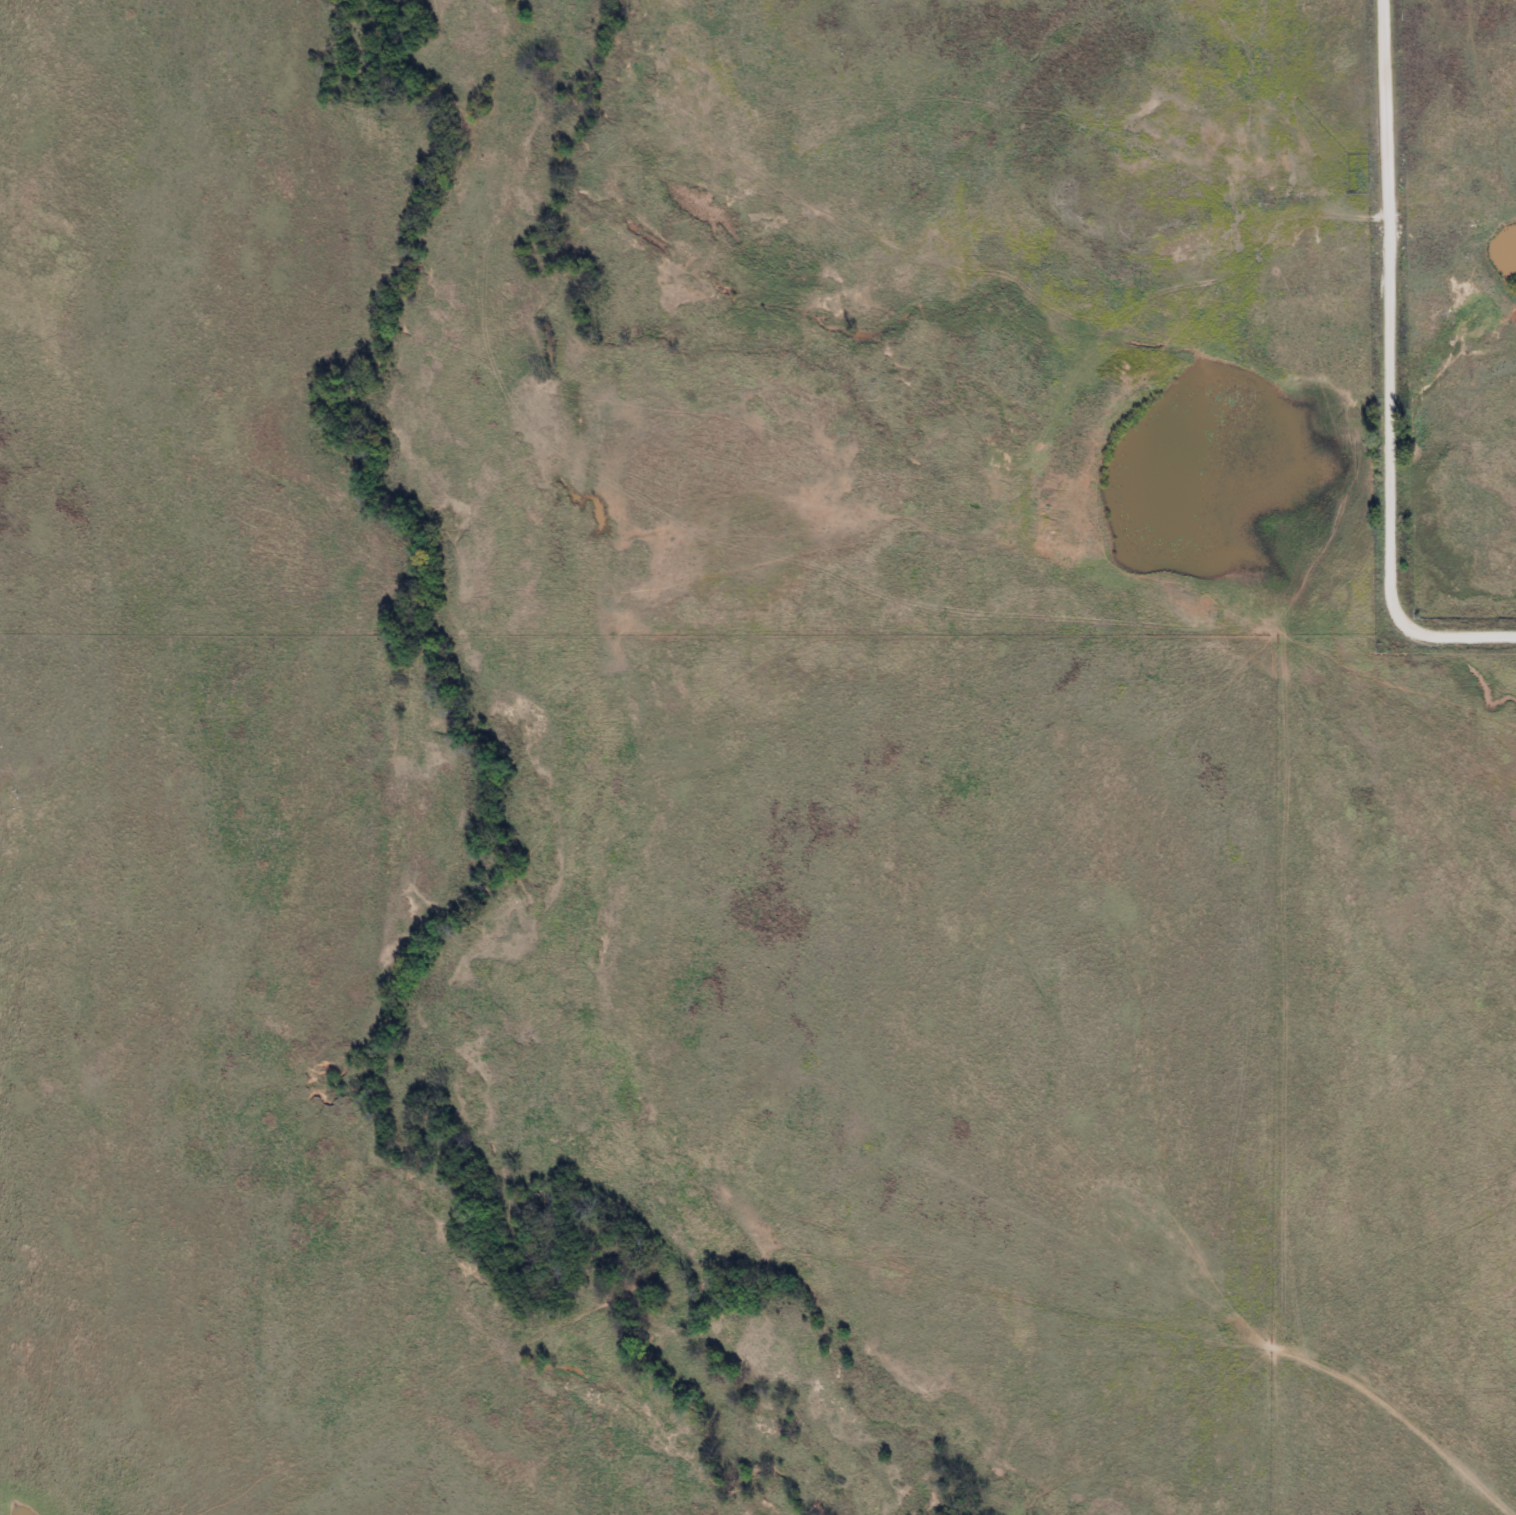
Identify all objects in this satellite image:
road: (1323, 120)
road: (1395, 365)

